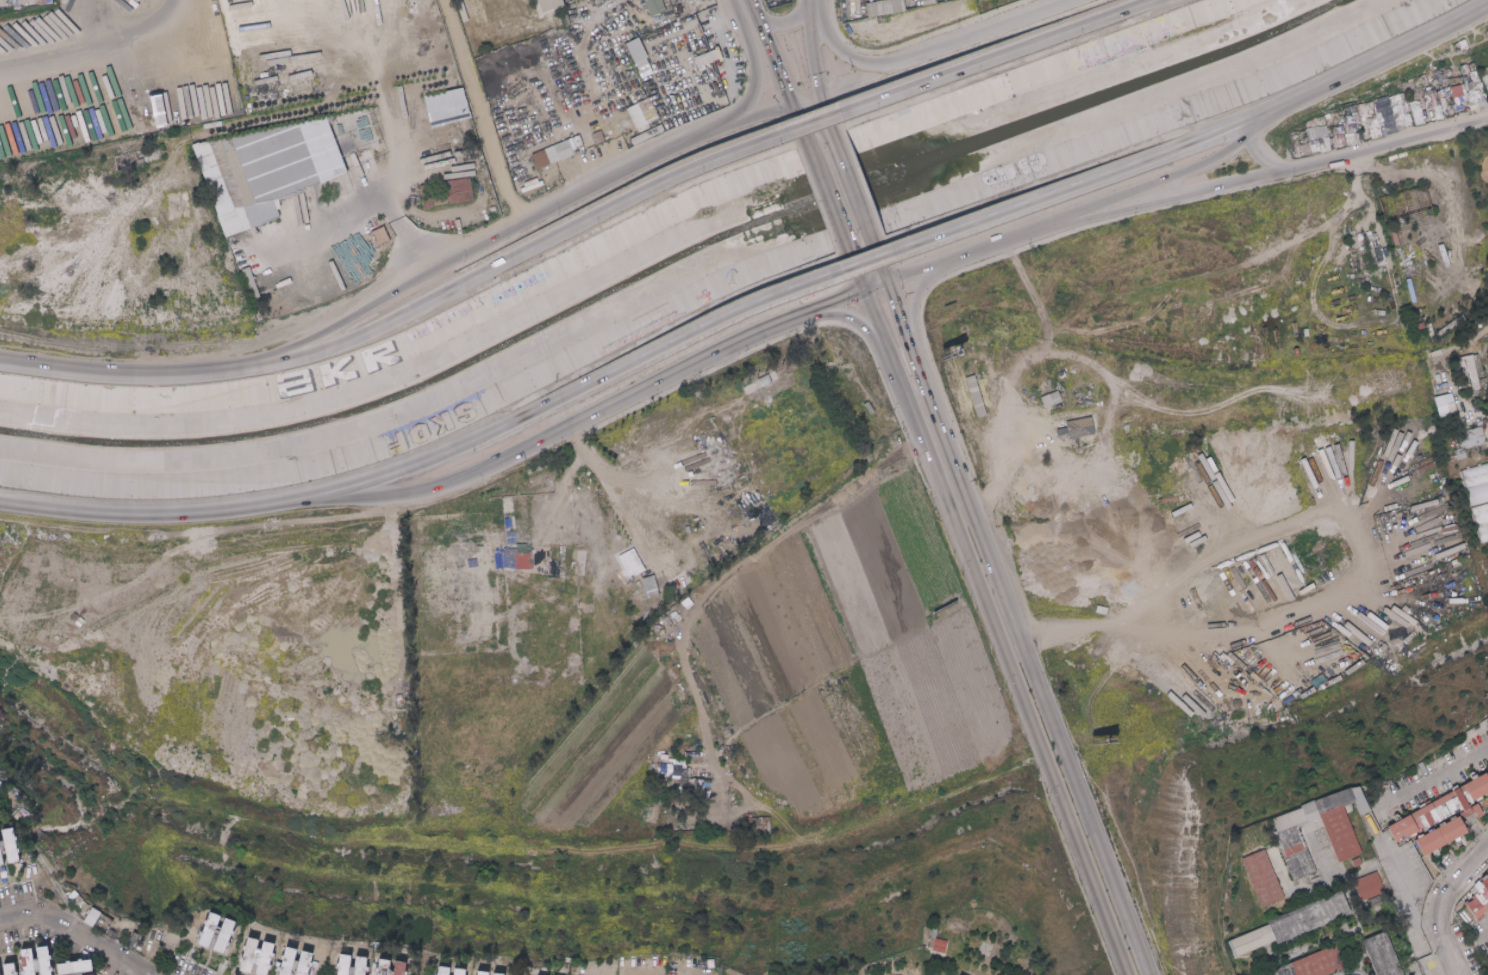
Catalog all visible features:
crop: (113, 232)
parking lot: (566, 508)
crop: (278, 581)
park: (491, 651)
crop: (290, 652)
crop: (296, 733)

